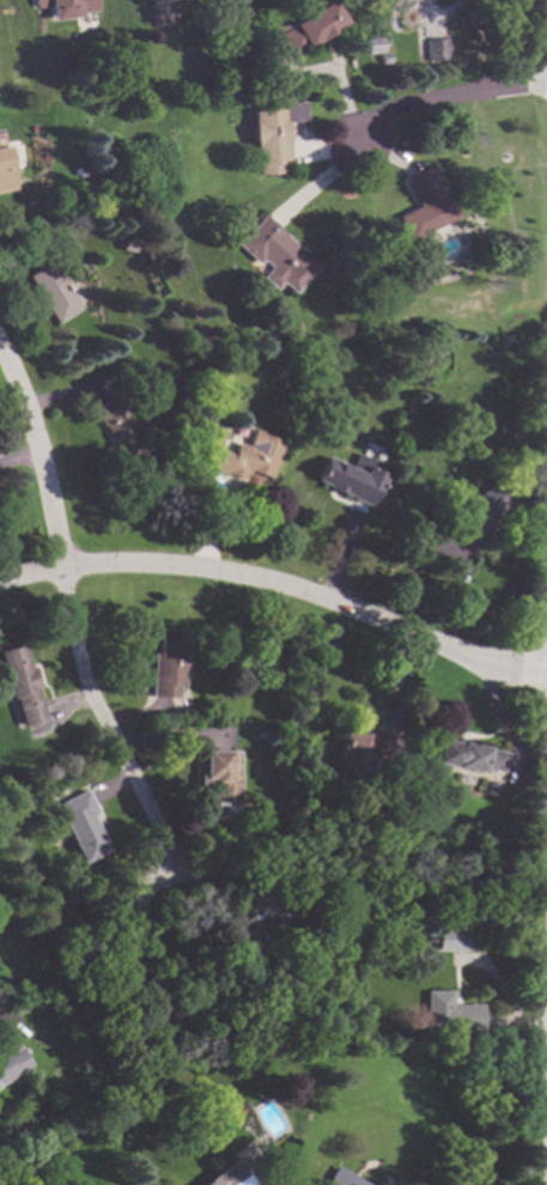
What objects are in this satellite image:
building: (152, 1)
building: (66, 7)
road: (446, 12)
building: (274, 28)
building: (305, 29)
building: (370, 45)
building: (432, 49)
building: (381, 59)
road: (442, 101)
building: (272, 135)
building: (5, 169)
building: (421, 205)
building: (126, 247)
building: (273, 256)
building: (51, 292)
building: (118, 433)
building: (214, 442)
road: (41, 456)
building: (248, 457)
building: (351, 478)
building: (476, 515)
road: (278, 587)
building: (168, 663)
building: (19, 685)
road: (104, 722)
building: (364, 752)
building: (469, 756)
building: (220, 779)
building: (492, 789)
building: (80, 826)
building: (449, 940)
building: (239, 942)
building: (419, 954)
building: (165, 996)
building: (448, 1014)
building: (12, 1064)
building: (231, 1174)
building: (339, 1179)

